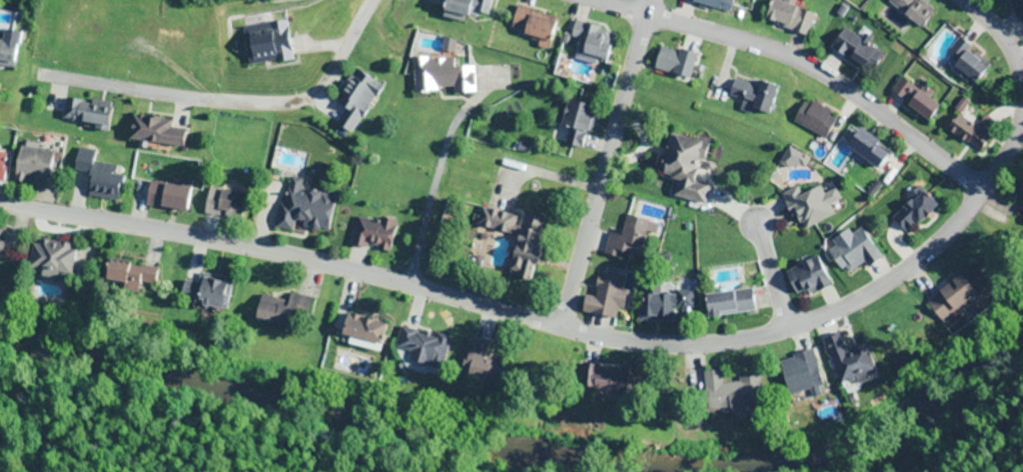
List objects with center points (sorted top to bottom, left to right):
building: (707, 3)
building: (1017, 7)
building: (473, 11)
building: (910, 11)
road: (601, 12)
building: (787, 17)
building: (531, 26)
road: (997, 37)
building: (588, 41)
building: (264, 43)
building: (855, 52)
building: (6, 54)
building: (673, 62)
building: (966, 62)
building: (439, 75)
road: (827, 85)
building: (750, 95)
building: (913, 99)
building: (354, 103)
road: (244, 104)
building: (84, 112)
building: (813, 118)
building: (574, 121)
building: (154, 132)
building: (966, 134)
building: (866, 149)
building: (680, 165)
building: (1, 166)
road: (604, 167)
building: (32, 168)
building: (94, 176)
building: (1021, 190)
building: (165, 197)
building: (222, 204)
building: (812, 205)
building: (300, 209)
building: (912, 211)
building: (1022, 216)
building: (372, 232)
building: (627, 239)
building: (516, 242)
building: (1, 245)
building: (853, 253)
building: (52, 260)
road: (779, 273)
building: (129, 275)
building: (806, 278)
building: (207, 292)
building: (959, 295)
building: (605, 297)
building: (728, 304)
building: (663, 305)
building: (280, 309)
building: (360, 330)
road: (549, 331)
building: (419, 344)
building: (477, 358)
building: (847, 359)
building: (800, 376)
building: (604, 379)
building: (731, 393)
river: (283, 400)
river: (898, 431)

